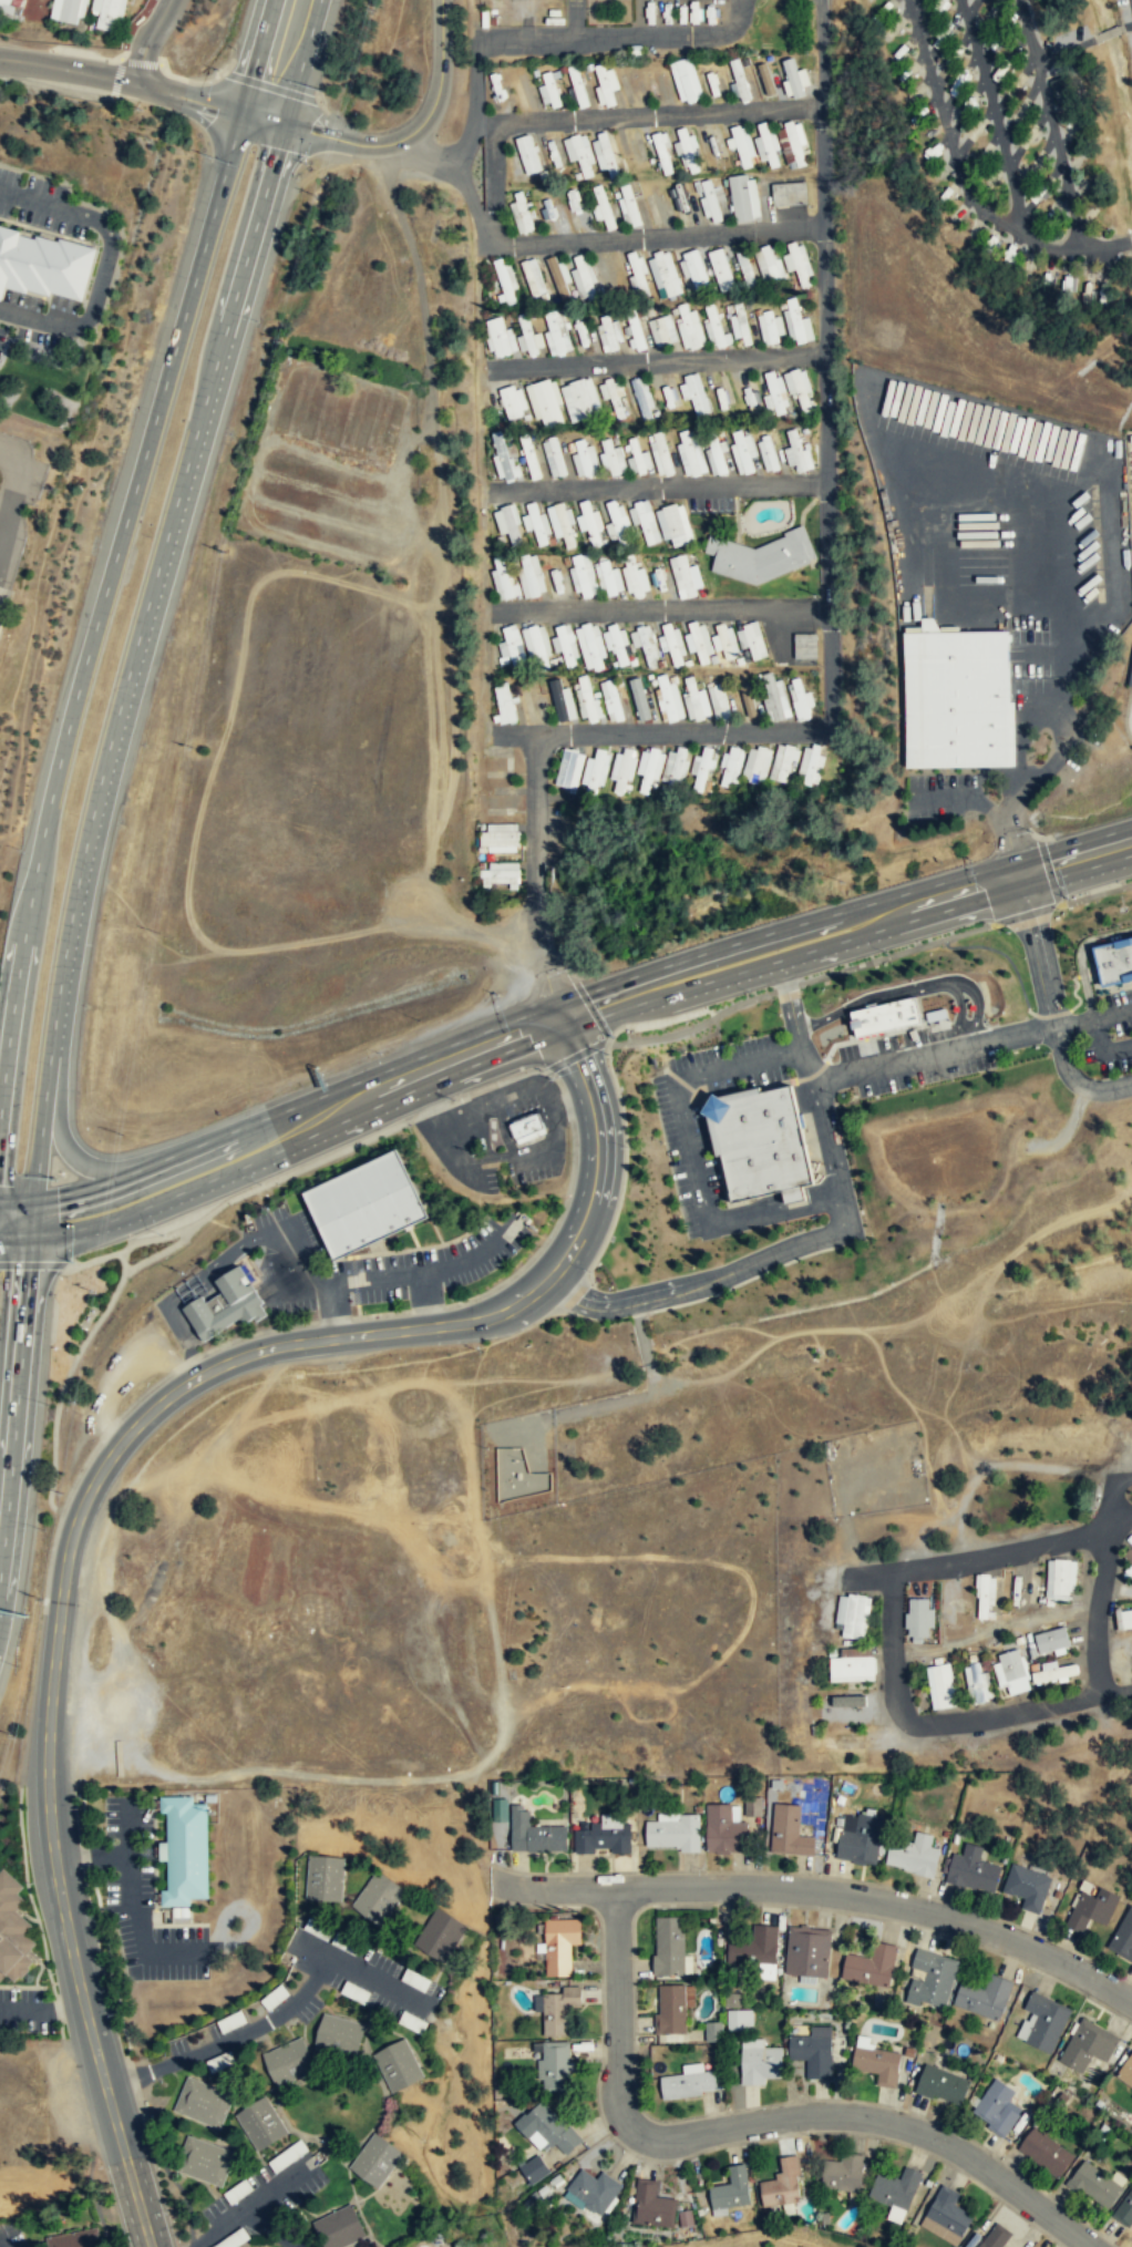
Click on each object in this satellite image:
building: (4, 1)
building: (34, 10)
building: (66, 10)
building: (106, 12)
parking lot: (525, 12)
road: (524, 19)
road: (574, 20)
road: (1126, 25)
road: (1108, 33)
road: (148, 40)
road: (550, 40)
road: (1063, 50)
road: (84, 55)
road: (821, 55)
road: (140, 62)
road: (303, 62)
road: (65, 70)
road: (172, 75)
road: (115, 78)
road: (214, 78)
building: (763, 79)
building: (791, 79)
building: (737, 80)
building: (683, 81)
building: (604, 85)
road: (270, 86)
building: (521, 89)
building: (547, 90)
building: (1061, 90)
road: (60, 91)
street lamp: (420, 96)
road: (207, 104)
road: (319, 104)
traffic signals: (239, 114)
road: (658, 114)
road: (995, 119)
road: (1049, 124)
traffic signals: (286, 125)
street lamp: (361, 129)
road: (414, 129)
building: (741, 144)
building: (766, 144)
building: (793, 145)
road: (419, 148)
building: (686, 151)
building: (578, 153)
building: (606, 153)
building: (525, 154)
road: (957, 160)
road: (494, 184)
building: (786, 194)
road: (470, 198)
building: (743, 198)
building: (677, 199)
building: (570, 201)
building: (626, 206)
building: (600, 208)
building: (522, 212)
road: (658, 237)
road: (1105, 244)
building: (768, 263)
building: (796, 263)
building: (43, 264)
road: (103, 264)
building: (691, 269)
building: (719, 269)
building: (663, 275)
building: (636, 276)
building: (532, 277)
building: (557, 277)
building: (583, 277)
building: (503, 281)
building: (796, 322)
building: (769, 326)
building: (688, 327)
building: (658, 329)
building: (714, 329)
building: (555, 334)
building: (607, 334)
building: (634, 335)
building: (525, 336)
building: (497, 338)
road: (658, 362)
building: (797, 388)
building: (693, 393)
building: (641, 398)
building: (579, 399)
building: (512, 402)
building: (544, 402)
building: (1131, 438)
building: (744, 452)
building: (797, 452)
building: (660, 453)
building: (717, 453)
building: (769, 453)
building: (691, 454)
building: (529, 455)
building: (553, 456)
building: (502, 458)
building: (613, 458)
building: (638, 458)
building: (585, 459)
road: (14, 484)
road: (660, 488)
parking lot: (17, 497)
road: (3, 506)
road: (1058, 510)
building: (645, 521)
building: (589, 522)
building: (617, 522)
building: (508, 523)
building: (536, 523)
building: (560, 523)
building: (675, 524)
building: (762, 556)
road: (113, 564)
parking lot: (1001, 564)
building: (584, 575)
building: (531, 576)
building: (686, 576)
building: (608, 577)
building: (635, 577)
building: (503, 581)
road: (829, 586)
road: (943, 587)
road: (153, 596)
road: (661, 609)
building: (724, 639)
building: (752, 639)
building: (699, 640)
building: (616, 642)
building: (565, 643)
building: (645, 643)
building: (671, 643)
building: (511, 644)
building: (536, 644)
building: (590, 645)
building: (803, 646)
building: (1130, 677)
building: (775, 697)
building: (639, 698)
building: (586, 699)
building: (611, 699)
building: (669, 699)
building: (696, 699)
building: (801, 699)
building: (956, 699)
building: (563, 700)
building: (718, 700)
building: (504, 702)
road: (1131, 717)
road: (1058, 720)
building: (784, 761)
building: (732, 763)
building: (758, 763)
building: (812, 763)
building: (650, 767)
building: (677, 767)
building: (703, 767)
building: (569, 768)
building: (596, 768)
building: (624, 768)
road: (944, 797)
road: (1005, 821)
building: (497, 838)
road: (533, 871)
building: (501, 874)
road: (1094, 894)
road: (843, 912)
road: (1026, 914)
road: (848, 941)
road: (895, 953)
road: (1004, 954)
road: (1081, 956)
road: (1089, 961)
building: (1114, 962)
road: (573, 974)
street lamp: (910, 978)
road: (786, 987)
road: (1074, 988)
road: (910, 991)
road: (1102, 991)
street lamp: (845, 998)
road: (1048, 1002)
road: (9, 1005)
traffic signals: (558, 1006)
road: (589, 1006)
road: (959, 1013)
road: (1051, 1014)
road: (1112, 1014)
building: (886, 1015)
road: (563, 1018)
street lamp: (987, 1018)
road: (659, 1022)
road: (1073, 1022)
road: (852, 1026)
road: (693, 1027)
traffic signals: (567, 1030)
parking lot: (1108, 1032)
road: (1023, 1033)
road: (874, 1035)
street lamp: (749, 1036)
road: (689, 1043)
street lamp: (899, 1043)
street lamp: (683, 1050)
road: (1101, 1050)
street lamp: (1048, 1051)
road: (575, 1055)
parking lot: (916, 1057)
road: (903, 1059)
road: (812, 1075)
road: (678, 1079)
road: (348, 1087)
road: (673, 1091)
street lamp: (835, 1094)
road: (703, 1097)
road: (710, 1119)
building: (526, 1127)
road: (1067, 1129)
parking lot: (498, 1133)
parking lot: (686, 1137)
road: (38, 1138)
road: (299, 1141)
street lamp: (661, 1142)
building: (762, 1142)
road: (66, 1149)
road: (625, 1163)
road: (307, 1164)
street lamp: (850, 1171)
road: (86, 1190)
road: (783, 1193)
road: (420, 1198)
road: (16, 1202)
traffic signals: (32, 1202)
building: (363, 1203)
road: (560, 1213)
road: (775, 1213)
road: (30, 1221)
street lamp: (802, 1228)
road: (274, 1230)
road: (827, 1235)
road: (14, 1239)
traffic signals: (29, 1240)
road: (1030, 1240)
road: (243, 1244)
road: (415, 1249)
road: (158, 1253)
road: (37, 1264)
parking lot: (429, 1265)
street lamp: (692, 1266)
road: (408, 1272)
road: (319, 1279)
road: (191, 1280)
road: (354, 1281)
road: (331, 1284)
road: (200, 1286)
road: (425, 1300)
building: (224, 1304)
road: (426, 1309)
road: (358, 1311)
road: (380, 1314)
road: (333, 1320)
road: (257, 1332)
road: (185, 1343)
road: (192, 1358)
road: (66, 1378)
road: (17, 1388)
road: (150, 1413)
road: (101, 1437)
building: (517, 1475)
building: (413, 1510)
building: (1129, 1559)
building: (1059, 1580)
building: (985, 1596)
road: (1103, 1598)
building: (856, 1617)
building: (918, 1618)
building: (1123, 1619)
road: (999, 1636)
building: (1051, 1641)
road: (897, 1661)
building: (852, 1670)
building: (1011, 1672)
building: (1053, 1674)
building: (977, 1683)
building: (941, 1687)
building: (202, 1691)
building: (366, 1697)
building: (847, 1701)
building: (209, 1796)
building: (752, 1807)
road: (127, 1827)
building: (723, 1828)
building: (672, 1832)
building: (789, 1833)
building: (534, 1834)
building: (604, 1835)
building: (858, 1839)
building: (184, 1848)
building: (913, 1856)
building: (973, 1871)
building: (323, 1876)
street lamp: (30, 1882)
building: (1027, 1888)
road: (826, 1892)
road: (130, 1896)
building: (378, 1898)
building: (1091, 1910)
building: (12, 1928)
building: (440, 1937)
building: (1123, 1940)
building: (559, 1946)
building: (669, 1946)
building: (754, 1948)
building: (806, 1953)
building: (871, 1967)
street lamp: (52, 1973)
road: (362, 1973)
building: (415, 1980)
building: (932, 1980)
building: (353, 1992)
building: (984, 1997)
building: (730, 2000)
building: (671, 2011)
building: (556, 2012)
building: (738, 2020)
road: (263, 2022)
building: (410, 2022)
building: (1042, 2023)
building: (713, 2033)
building: (339, 2035)
building: (1087, 2048)
building: (813, 2052)
building: (288, 2061)
building: (760, 2062)
building: (877, 2064)
building: (398, 2065)
building: (554, 2068)
road: (140, 2073)
building: (1125, 2074)
building: (688, 2084)
building: (940, 2084)
building: (1131, 2097)
building: (202, 2104)
building: (996, 2110)
road: (755, 2122)
building: (259, 2125)
building: (550, 2132)
building: (1043, 2152)
building: (203, 2161)
building: (375, 2161)
road: (127, 2164)
street lamp: (100, 2165)
building: (532, 2169)
building: (843, 2174)
building: (1093, 2185)
building: (782, 2186)
building: (593, 2192)
building: (731, 2193)
building: (895, 2193)
road: (255, 2204)
building: (651, 2207)
building: (1124, 2210)
building: (946, 2217)
building: (339, 2228)
road: (269, 2229)
building: (995, 2237)
building: (75, 2238)
road: (0, 2246)

